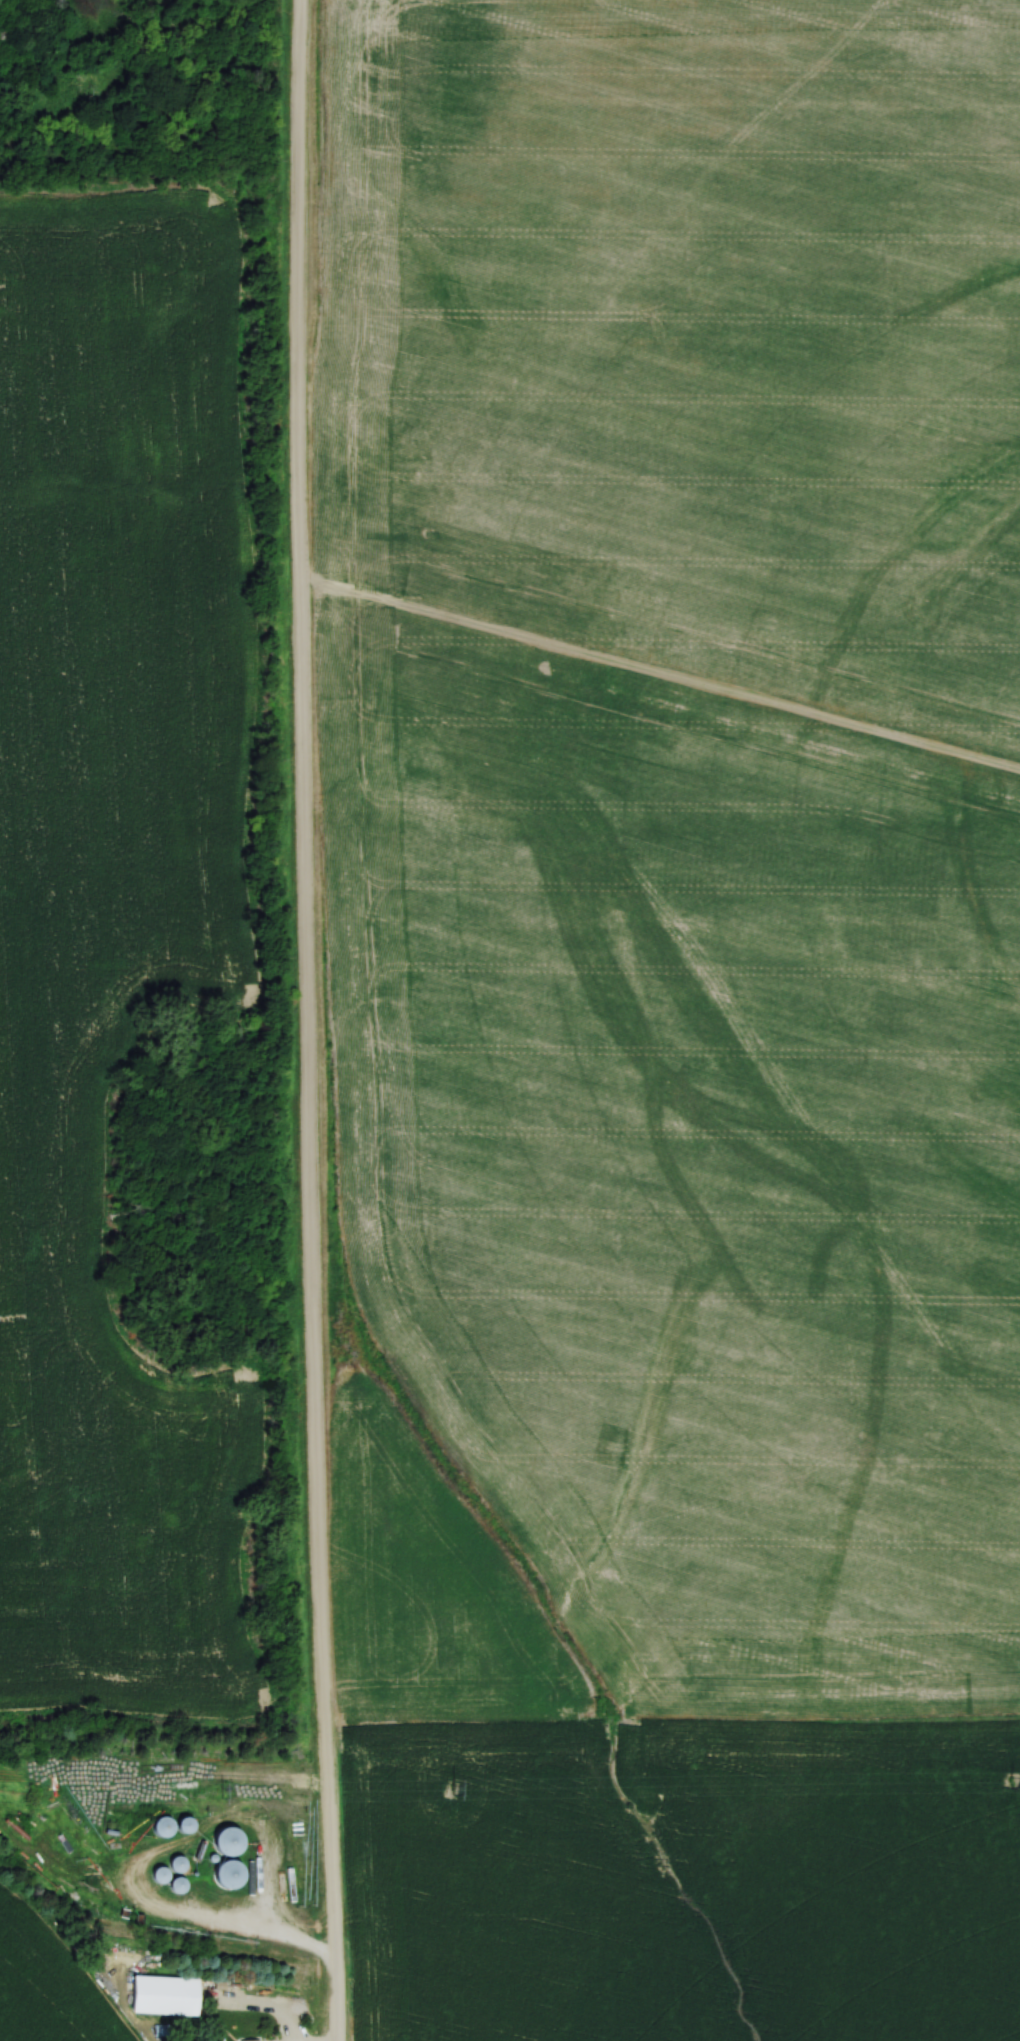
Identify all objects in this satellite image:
building: (2, 36)
road: (305, 1020)
power tower: (1008, 1779)
power tower: (450, 1788)
power tower: (217, 1791)
building: (181, 1822)
building: (157, 1823)
building: (224, 1839)
building: (174, 1862)
building: (225, 1871)
building: (157, 1873)
building: (175, 1882)
road: (236, 1930)
building: (161, 1994)
building: (247, 2039)

